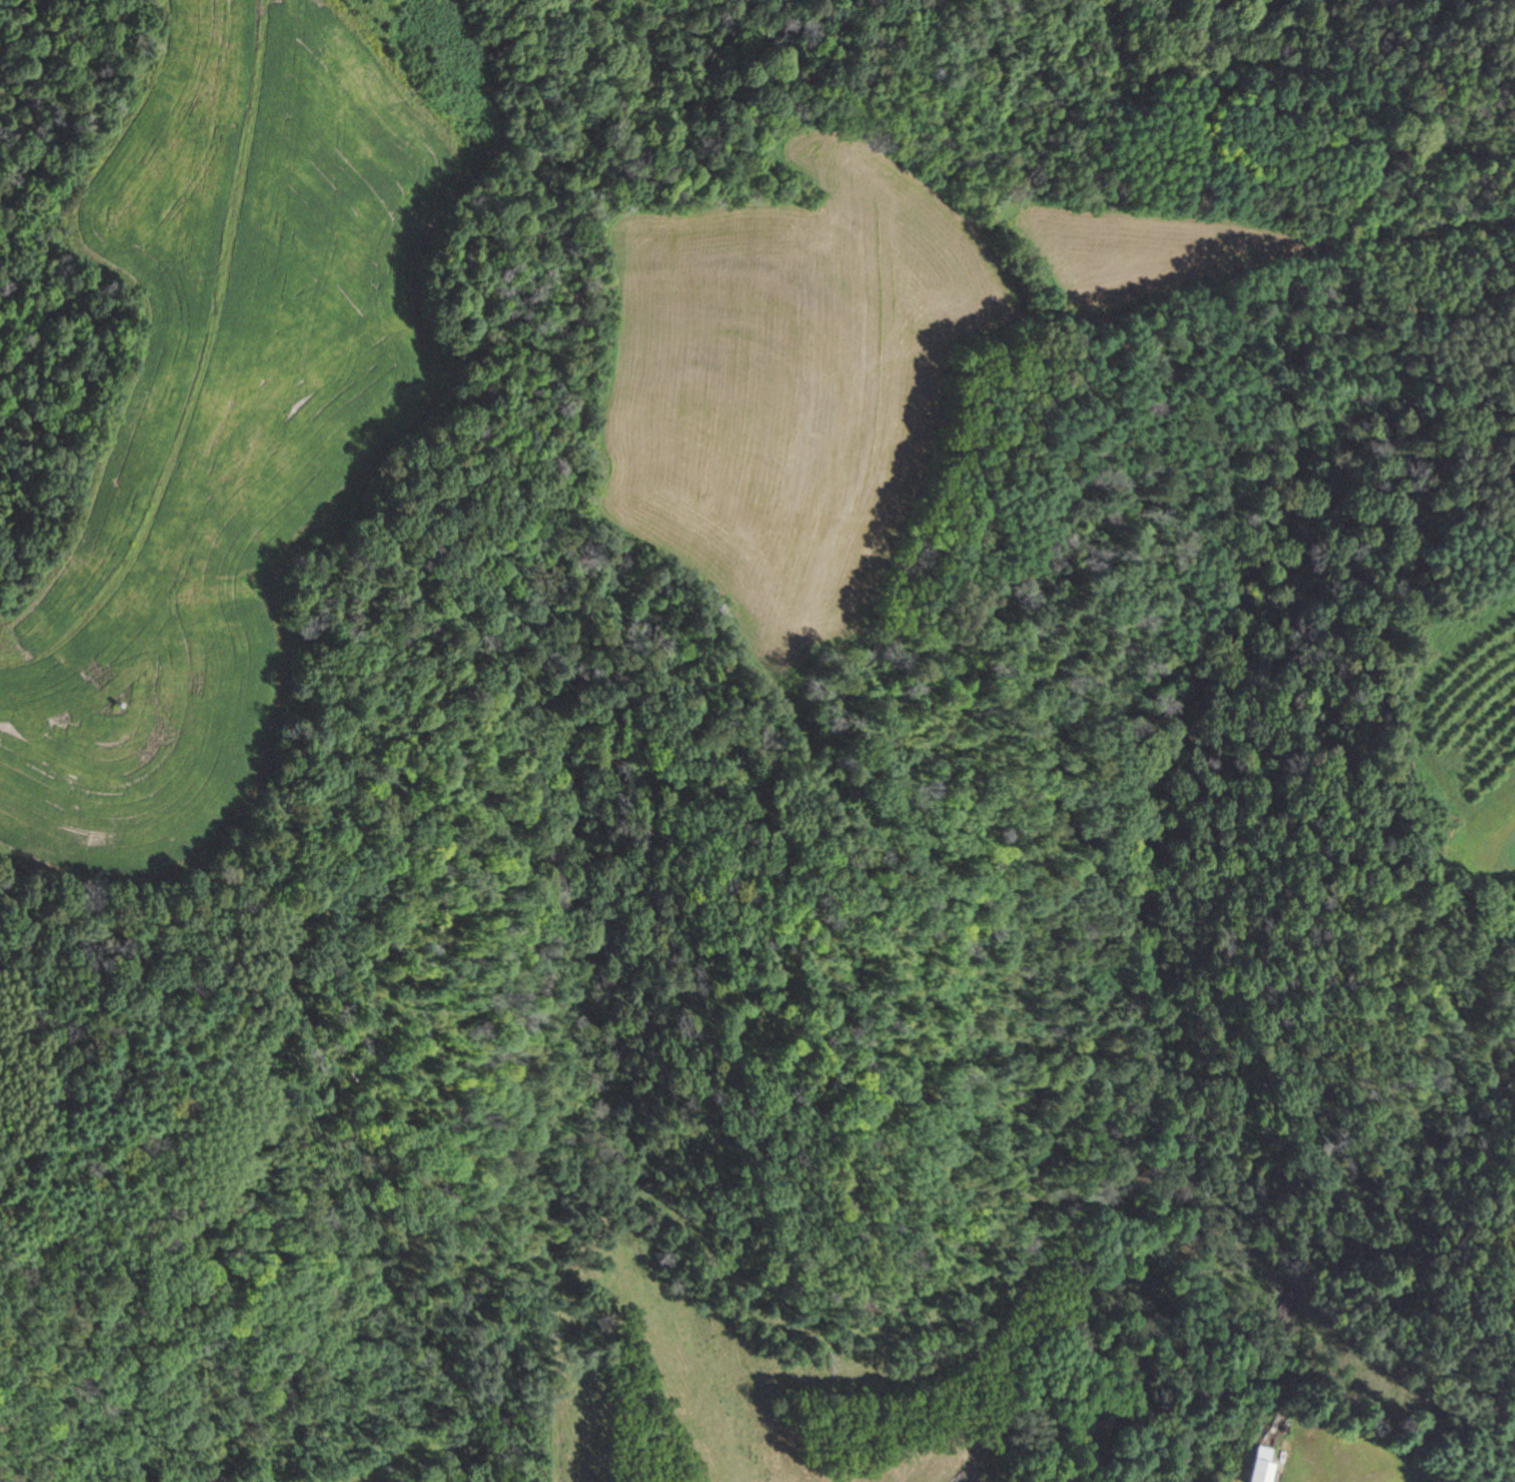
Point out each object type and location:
building: (1261, 1471)

